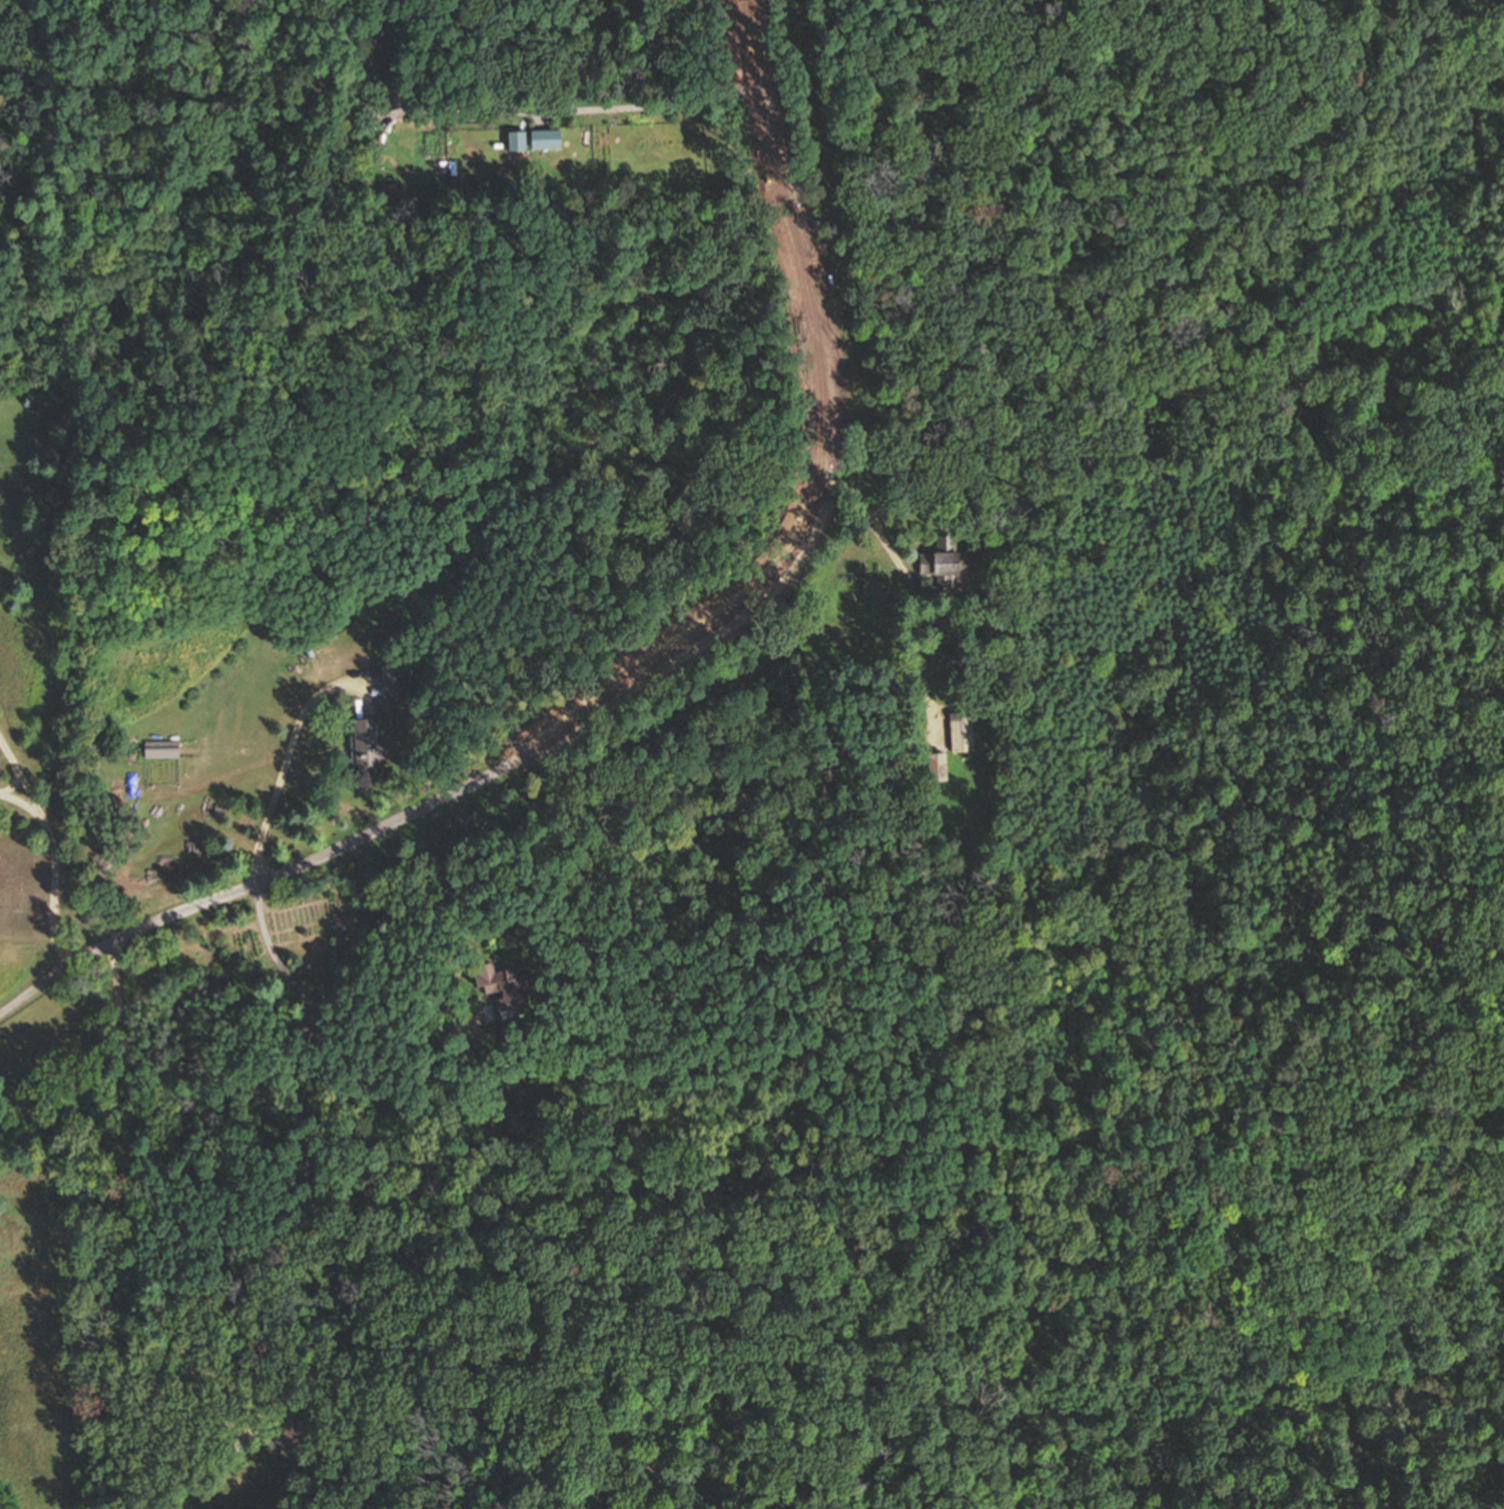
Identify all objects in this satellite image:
building: (376, 46)
building: (394, 192)
building: (946, 561)
road: (651, 660)
building: (395, 681)
building: (963, 731)
building: (365, 741)
building: (161, 750)
building: (938, 766)
road: (15, 798)
road: (51, 845)
road: (262, 917)
building: (506, 990)
road: (131, 1207)
building: (294, 1434)

